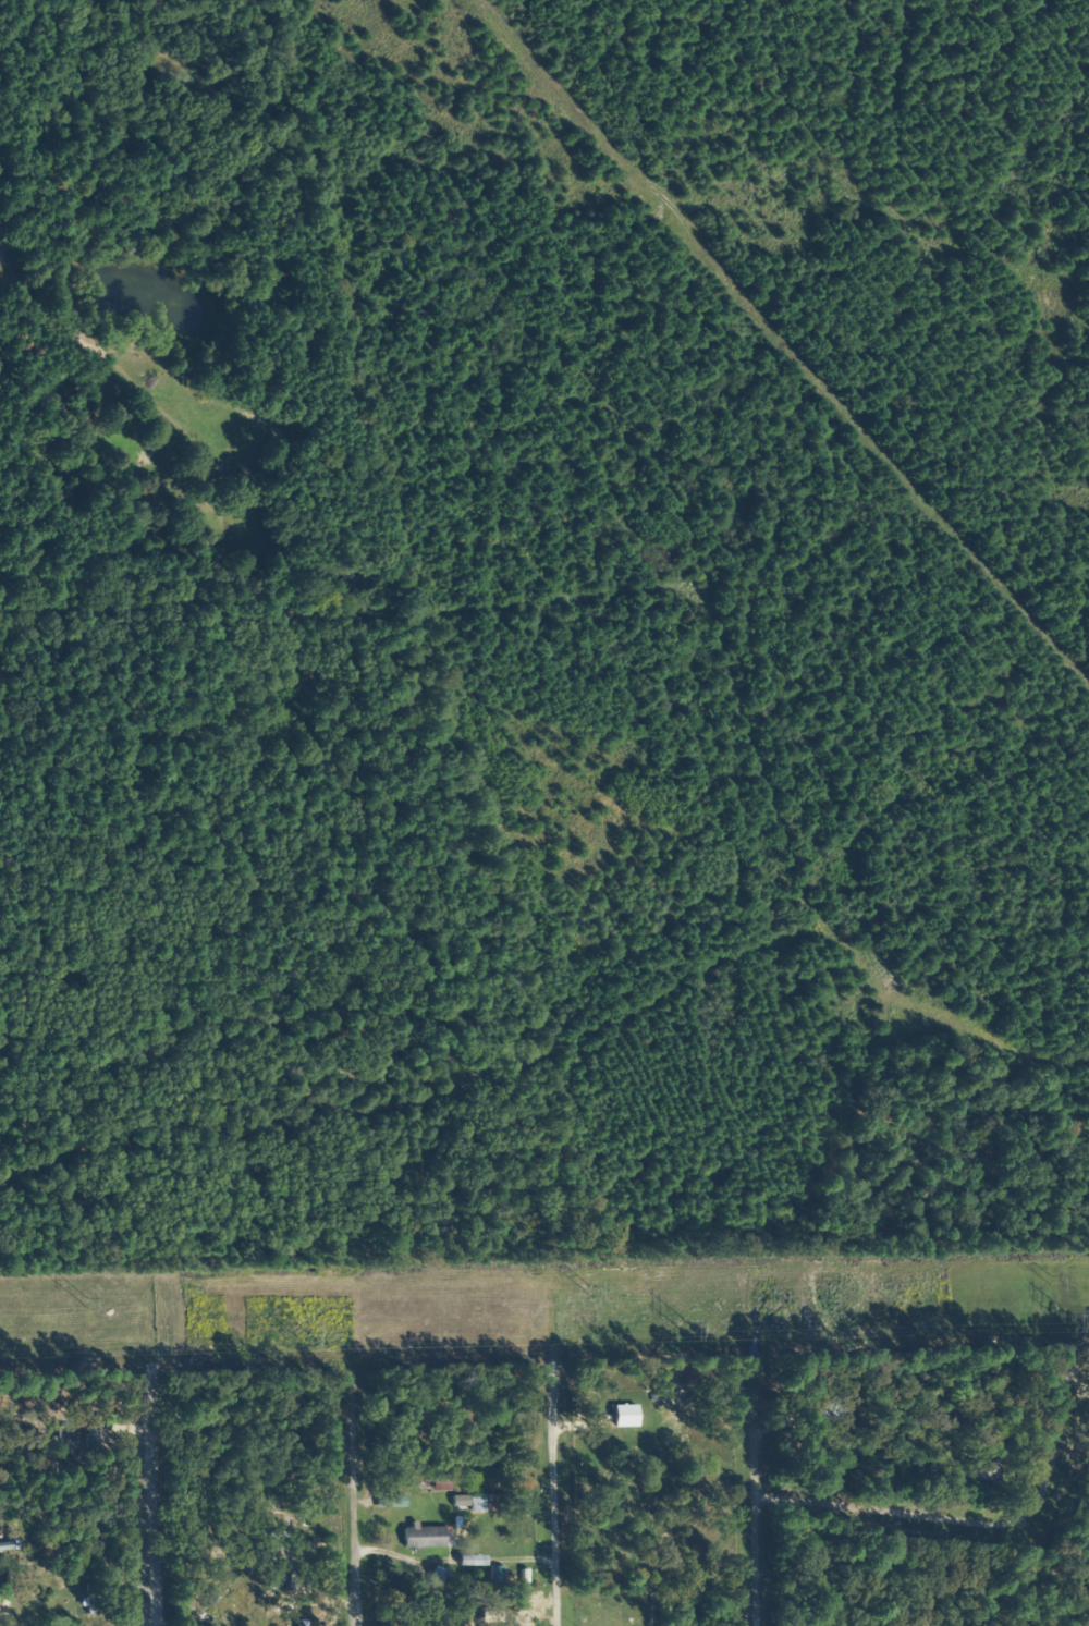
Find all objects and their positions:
power tower: (1047, 1276)
power tower: (585, 1288)
power tower: (78, 1296)
power tower: (1063, 1318)
power tower: (682, 1327)
power tower: (299, 1335)
building: (623, 1413)
building: (69, 1434)
building: (983, 1470)
road: (967, 1494)
road: (535, 1497)
building: (486, 1503)
road: (755, 1503)
road: (345, 1506)
road: (145, 1512)
building: (426, 1538)
building: (470, 1561)
building: (438, 1575)
building: (505, 1577)
building: (5, 1589)
building: (90, 1600)
building: (235, 1600)
building: (22, 1601)

